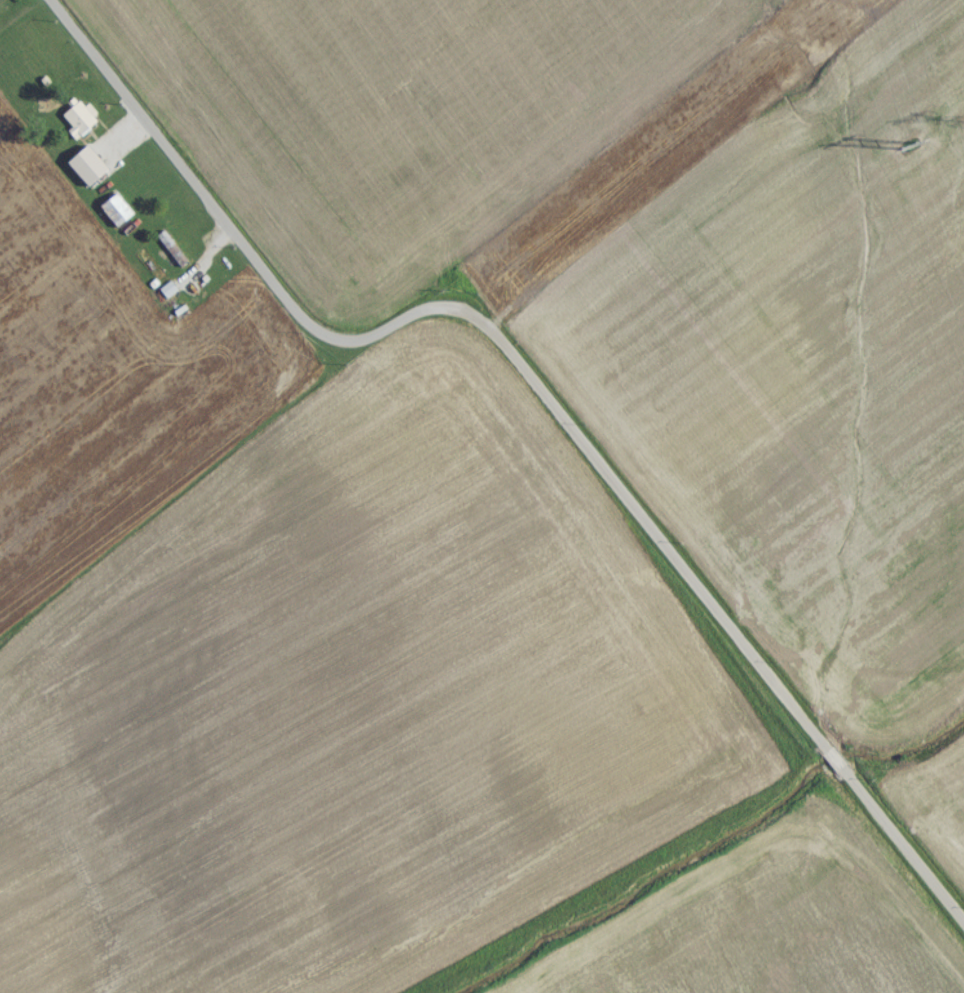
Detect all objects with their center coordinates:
building: (1, 0)
building: (75, 126)
power tower: (901, 153)
building: (83, 173)
building: (113, 217)
building: (171, 256)
building: (166, 297)
road: (535, 380)

